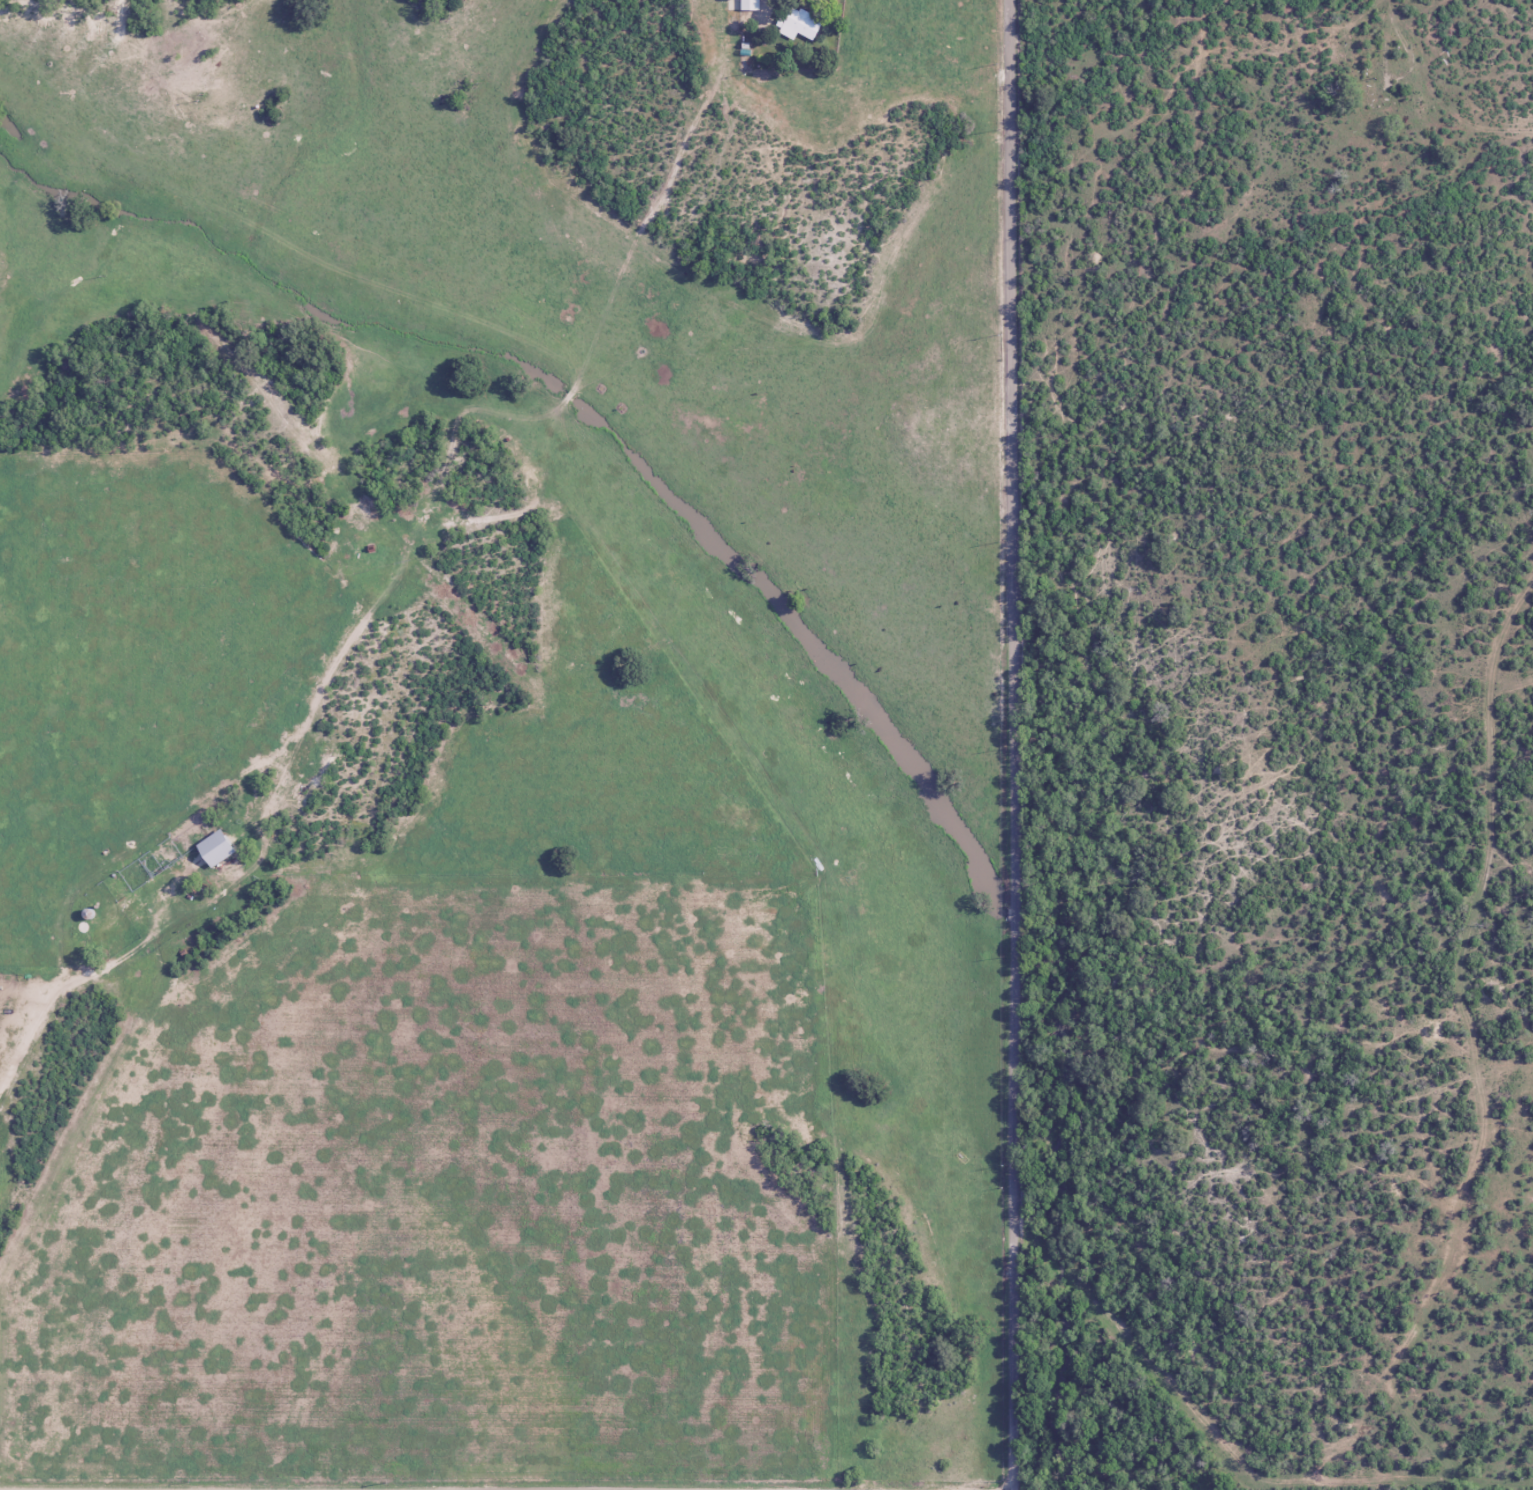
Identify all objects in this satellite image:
building: (751, 5)
building: (800, 25)
building: (191, 50)
road: (1013, 745)
building: (219, 848)
road: (55, 1039)

